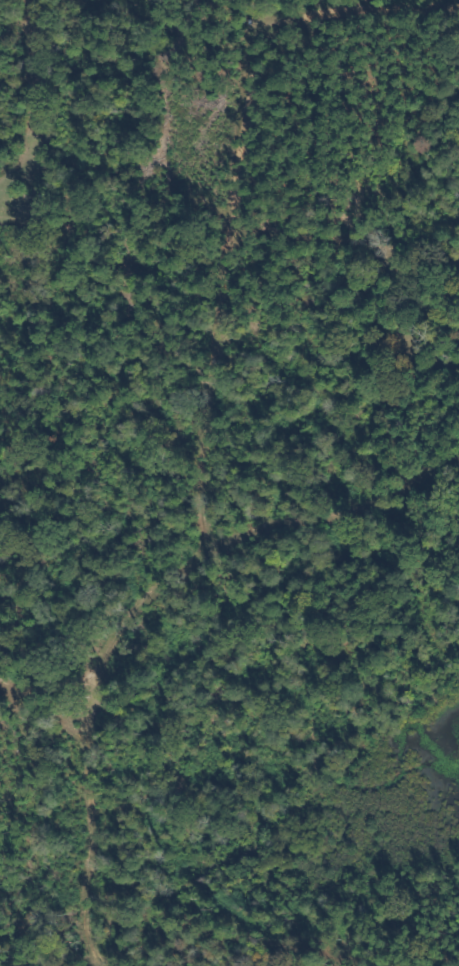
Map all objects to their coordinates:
road: (12, 689)

